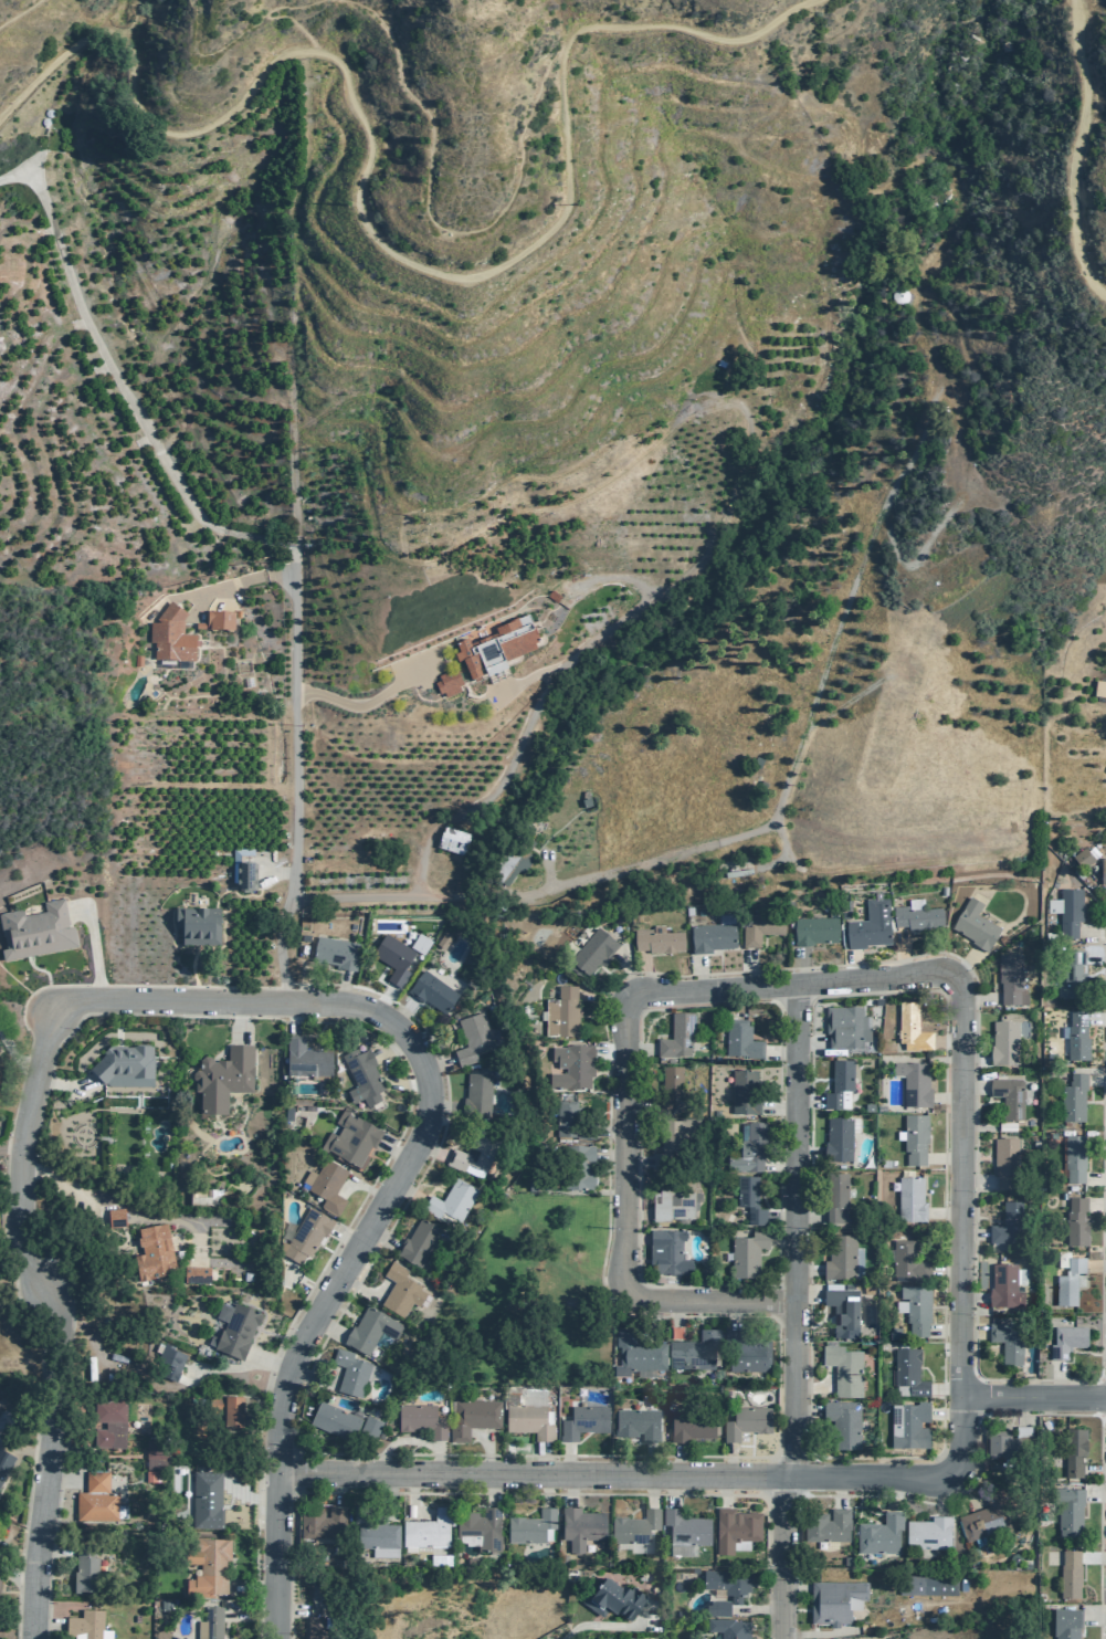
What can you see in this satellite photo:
road: (19, 10)
road: (133, 20)
road: (310, 27)
road: (227, 41)
building: (46, 112)
storage tank: (46, 112)
building: (43, 120)
storage tank: (43, 120)
road: (1077, 153)
road: (900, 171)
road: (436, 223)
road: (368, 240)
building: (897, 295)
storage tank: (897, 295)
crop: (151, 351)
road: (126, 387)
building: (957, 408)
road: (914, 560)
road: (244, 579)
building: (215, 621)
building: (169, 633)
building: (497, 649)
building: (136, 660)
road: (526, 676)
building: (447, 683)
building: (1098, 689)
road: (537, 700)
road: (366, 704)
road: (299, 785)
road: (761, 827)
building: (451, 840)
building: (1081, 858)
road: (773, 860)
building: (509, 865)
road: (547, 865)
building: (241, 866)
building: (1102, 871)
road: (278, 872)
building: (737, 873)
building: (251, 876)
road: (1102, 891)
building: (687, 911)
building: (1068, 912)
building: (915, 915)
building: (196, 923)
building: (868, 925)
building: (973, 925)
building: (34, 931)
building: (813, 931)
building: (757, 932)
road: (1092, 932)
building: (710, 935)
road: (221, 937)
building: (442, 939)
building: (655, 941)
building: (418, 943)
road: (92, 946)
road: (900, 949)
building: (591, 950)
building: (334, 952)
road: (1095, 958)
building: (392, 959)
road: (851, 963)
road: (802, 964)
road: (961, 964)
road: (190, 965)
road: (748, 967)
road: (39, 970)
road: (625, 970)
road: (643, 970)
road: (698, 970)
building: (1072, 975)
building: (1009, 980)
road: (792, 981)
road: (341, 989)
building: (429, 990)
road: (599, 997)
road: (976, 999)
road: (381, 1000)
road: (810, 1006)
building: (560, 1013)
road: (1097, 1017)
road: (234, 1022)
road: (312, 1026)
building: (844, 1026)
building: (910, 1028)
building: (675, 1036)
building: (1076, 1038)
building: (740, 1039)
building: (474, 1040)
road: (809, 1040)
building: (1003, 1044)
road: (635, 1048)
road: (779, 1050)
road: (605, 1053)
road: (15, 1059)
building: (305, 1059)
road: (970, 1060)
building: (123, 1061)
building: (570, 1065)
road: (383, 1075)
building: (221, 1076)
building: (366, 1078)
road: (1096, 1079)
building: (670, 1080)
building: (913, 1082)
building: (838, 1084)
road: (66, 1085)
road: (970, 1086)
building: (744, 1091)
building: (478, 1096)
building: (1007, 1096)
building: (1072, 1097)
road: (807, 1101)
road: (779, 1109)
building: (569, 1122)
road: (608, 1132)
building: (838, 1137)
building: (914, 1137)
building: (356, 1138)
building: (672, 1138)
building: (748, 1149)
road: (12, 1153)
building: (476, 1155)
building: (1073, 1157)
road: (636, 1162)
building: (1003, 1162)
building: (578, 1166)
road: (780, 1166)
road: (404, 1169)
road: (375, 1177)
road: (1094, 1177)
road: (975, 1183)
building: (533, 1184)
building: (333, 1187)
road: (957, 1189)
road: (583, 1190)
building: (207, 1196)
building: (834, 1196)
building: (747, 1198)
building: (908, 1198)
building: (672, 1199)
road: (113, 1202)
building: (452, 1205)
road: (1096, 1205)
road: (634, 1214)
building: (114, 1217)
road: (781, 1217)
building: (1075, 1221)
building: (1005, 1222)
road: (623, 1227)
road: (794, 1229)
road: (971, 1234)
building: (310, 1236)
road: (634, 1238)
road: (781, 1239)
building: (420, 1244)
road: (13, 1249)
building: (665, 1251)
building: (154, 1252)
building: (746, 1252)
building: (840, 1257)
building: (906, 1260)
road: (1096, 1265)
building: (194, 1273)
building: (1067, 1282)
building: (1002, 1285)
building: (400, 1292)
park: (527, 1301)
road: (607, 1301)
road: (972, 1302)
road: (23, 1305)
building: (915, 1309)
building: (841, 1310)
road: (733, 1314)
road: (52, 1320)
road: (675, 1320)
road: (971, 1331)
building: (242, 1332)
building: (893, 1333)
building: (369, 1334)
building: (1064, 1339)
building: (1005, 1341)
building: (693, 1349)
building: (744, 1352)
building: (635, 1354)
building: (177, 1359)
road: (245, 1366)
building: (842, 1368)
building: (907, 1370)
building: (350, 1375)
road: (1056, 1377)
road: (1032, 1394)
building: (524, 1395)
building: (234, 1408)
road: (999, 1414)
building: (471, 1417)
building: (420, 1419)
building: (527, 1420)
building: (742, 1420)
building: (581, 1421)
building: (335, 1422)
building: (842, 1422)
building: (108, 1423)
building: (636, 1423)
building: (689, 1423)
building: (907, 1425)
building: (369, 1432)
road: (65, 1438)
building: (1008, 1442)
building: (1073, 1449)
building: (154, 1454)
road: (649, 1459)
road: (728, 1459)
road: (677, 1460)
building: (4, 1462)
road: (1094, 1471)
building: (149, 1475)
road: (653, 1477)
road: (721, 1490)
road: (650, 1491)
road: (670, 1491)
road: (958, 1491)
road: (488, 1493)
road: (1095, 1493)
road: (937, 1494)
building: (94, 1499)
building: (206, 1499)
building: (1068, 1510)
building: (984, 1515)
building: (320, 1522)
building: (825, 1525)
building: (529, 1526)
building: (580, 1526)
building: (632, 1526)
building: (477, 1527)
building: (428, 1528)
building: (734, 1528)
building: (683, 1531)
building: (372, 1533)
building: (927, 1533)
building: (878, 1534)
building: (436, 1556)
road: (783, 1557)
road: (1093, 1557)
building: (1053, 1558)
building: (204, 1566)
building: (83, 1568)
building: (693, 1569)
building: (1068, 1574)
building: (727, 1583)
building: (926, 1584)
building: (611, 1597)
building: (834, 1600)
building: (718, 1607)
road: (757, 1609)
road: (1093, 1616)
building: (210, 1624)
building: (1065, 1624)
building: (87, 1625)
road: (612, 1625)
building: (317, 1627)
building: (727, 1627)
building: (196, 1638)
building: (607, 1638)

